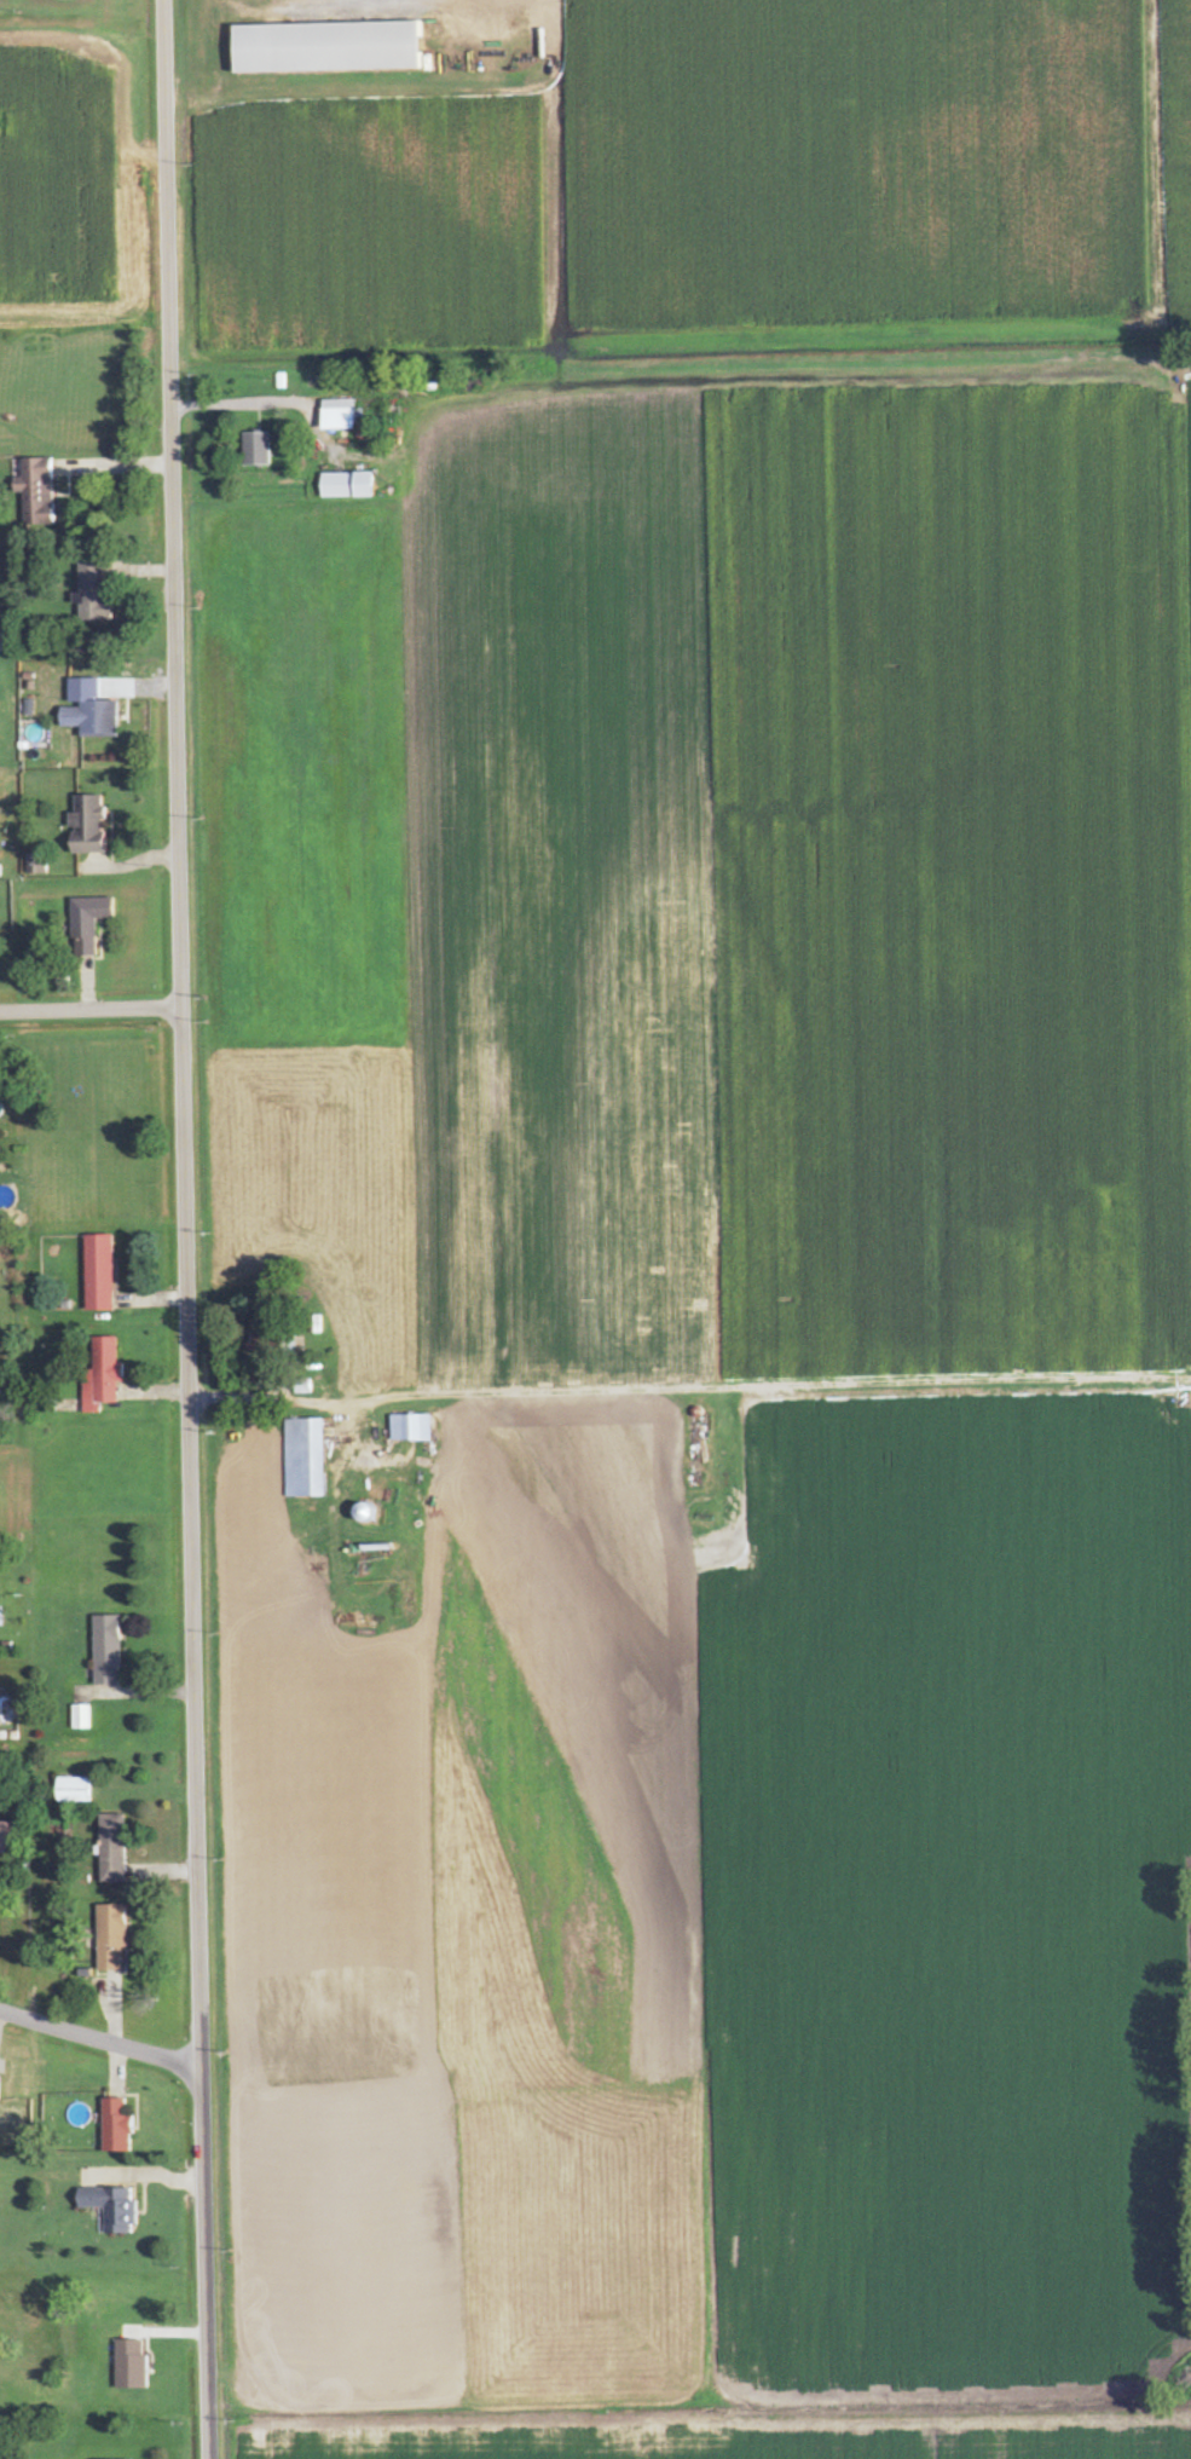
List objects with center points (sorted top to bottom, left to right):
building: (324, 47)
building: (337, 415)
building: (255, 449)
building: (345, 485)
building: (36, 491)
building: (92, 591)
building: (88, 710)
building: (88, 826)
building: (87, 924)
road: (89, 1009)
road: (184, 1229)
building: (99, 1271)
building: (103, 1375)
road: (297, 1397)
building: (410, 1427)
building: (303, 1457)
building: (360, 1512)
building: (106, 1650)
building: (80, 1716)
building: (71, 1789)
building: (6, 1837)
building: (111, 1848)
building: (110, 1935)
road: (99, 2037)
building: (116, 2126)
building: (110, 2207)
building: (129, 2365)

